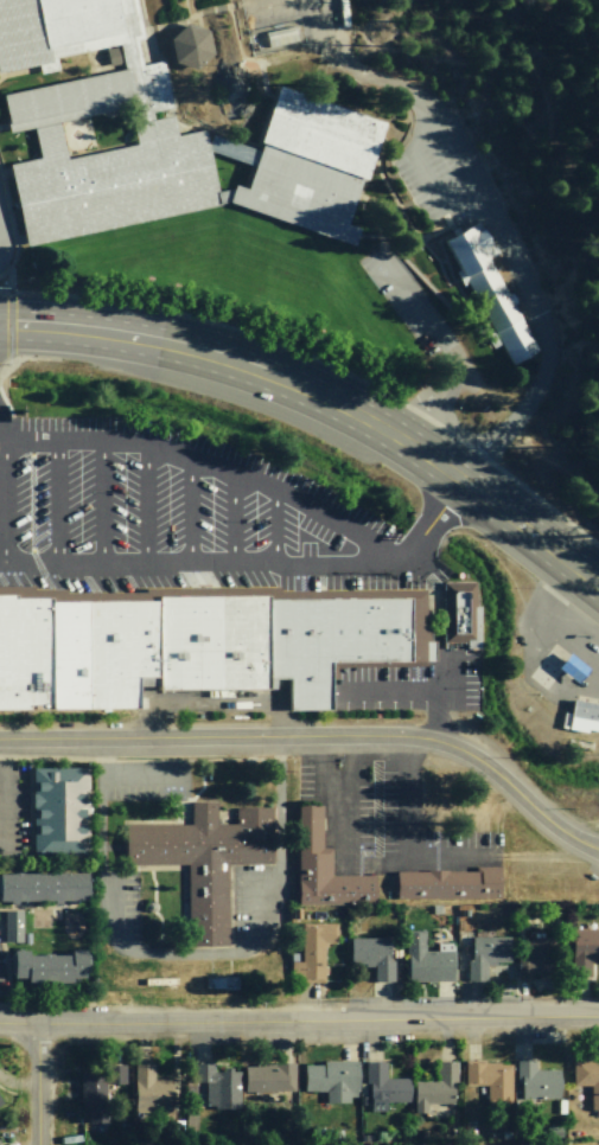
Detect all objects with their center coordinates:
building: (60, 28)
building: (191, 45)
building: (88, 95)
building: (308, 167)
building: (113, 183)
building: (489, 289)
road: (323, 398)
road: (215, 460)
road: (5, 498)
road: (58, 504)
road: (98, 505)
road: (148, 507)
road: (187, 510)
road: (235, 514)
parking lot: (179, 519)
road: (279, 525)
road: (253, 565)
building: (458, 612)
building: (225, 640)
road: (435, 646)
building: (24, 647)
road: (388, 695)
road: (234, 701)
building: (584, 717)
road: (316, 740)
road: (4, 795)
building: (59, 810)
building: (204, 859)
building: (324, 866)
building: (450, 884)
building: (44, 887)
building: (12, 927)
building: (312, 951)
building: (584, 951)
building: (534, 952)
building: (486, 954)
building: (372, 955)
building: (428, 960)
building: (50, 967)
road: (299, 1025)
building: (117, 1074)
building: (269, 1077)
building: (587, 1079)
building: (332, 1080)
building: (490, 1080)
building: (536, 1081)
building: (218, 1086)
road: (37, 1087)
building: (384, 1087)
building: (435, 1088)
building: (152, 1089)
building: (93, 1098)
building: (0, 1106)

